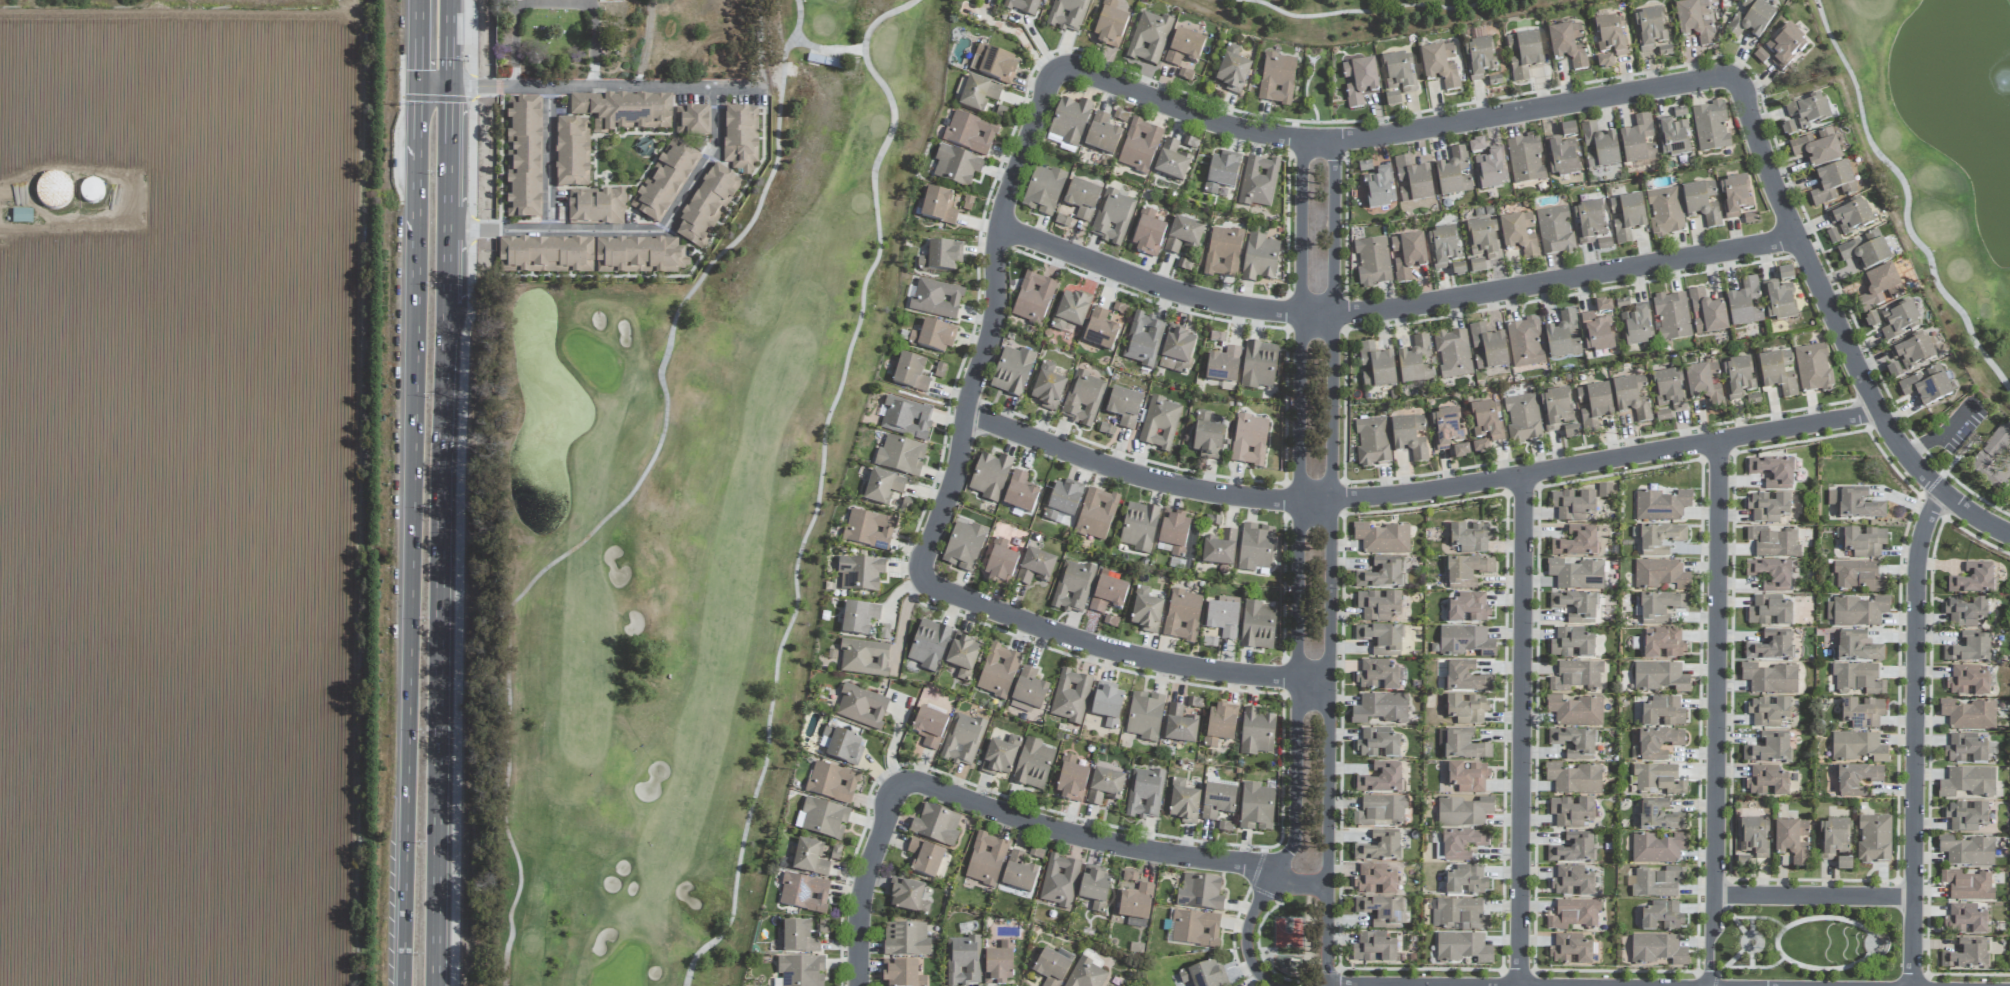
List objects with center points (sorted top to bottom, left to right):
road: (553, 3)
building: (1023, 6)
road: (1365, 11)
building: (1067, 14)
park: (1368, 15)
building: (1751, 19)
building: (1695, 22)
building: (1109, 25)
building: (1650, 27)
road: (1018, 32)
building: (1611, 35)
building: (1149, 38)
road: (417, 42)
building: (1567, 45)
building: (1785, 46)
road: (827, 50)
building: (1184, 50)
building: (1524, 54)
building: (1760, 56)
building: (1479, 58)
building: (824, 62)
building: (1605, 62)
building: (994, 64)
building: (1440, 65)
building: (1232, 70)
building: (1399, 72)
building: (1277, 79)
building: (1360, 81)
fountain: (2004, 81)
road: (589, 86)
road: (1661, 86)
building: (978, 94)
building: (1392, 99)
road: (471, 109)
building: (623, 110)
building: (1808, 110)
building: (1679, 111)
building: (692, 121)
building: (1069, 122)
building: (1710, 126)
building: (1788, 129)
building: (1568, 130)
building: (970, 132)
building: (1102, 135)
building: (740, 137)
building: (1673, 137)
building: (1638, 142)
building: (1139, 146)
building: (1476, 146)
building: (1599, 147)
building: (1817, 148)
park: (1940, 150)
building: (572, 152)
building: (524, 157)
building: (1562, 157)
road: (548, 158)
building: (1525, 159)
road: (704, 161)
building: (1171, 161)
building: (956, 166)
building: (1491, 169)
building: (1221, 172)
building: (1454, 172)
road: (415, 181)
building: (1413, 181)
building: (665, 182)
building: (1258, 182)
building: (1834, 184)
building: (1380, 188)
building: (1043, 190)
building: (1735, 196)
building: (1082, 199)
road: (1907, 199)
building: (1702, 202)
building: (596, 206)
building: (706, 206)
building: (938, 206)
building: (1665, 212)
building: (21, 216)
building: (1626, 216)
building: (1850, 216)
building: (1112, 217)
building: (1589, 222)
road: (472, 230)
road: (555, 231)
building: (1555, 231)
building: (1147, 233)
building: (1519, 234)
building: (1183, 235)
building: (1833, 236)
building: (1484, 239)
building: (1604, 243)
building: (1443, 246)
building: (1865, 250)
building: (1223, 252)
building: (546, 255)
building: (639, 255)
building: (1408, 255)
building: (941, 256)
building: (1259, 258)
building: (1372, 261)
building: (1477, 266)
building: (1785, 274)
building: (1033, 298)
building: (936, 299)
building: (1779, 301)
building: (1622, 303)
building: (1745, 304)
building: (1603, 305)
road: (1391, 308)
building: (1070, 311)
building: (1707, 313)
building: (1672, 316)
building: (1899, 320)
building: (1871, 321)
road: (988, 322)
building: (1637, 325)
building: (1100, 330)
building: (1596, 332)
building: (933, 336)
building: (1563, 336)
building: (1143, 339)
building: (1525, 343)
building: (1487, 348)
building: (1177, 350)
building: (1912, 351)
building: (1453, 353)
building: (1415, 361)
building: (1223, 365)
building: (1259, 365)
building: (1375, 366)
building: (1813, 368)
building: (1012, 371)
building: (1778, 372)
building: (910, 373)
building: (1738, 377)
building: (1704, 383)
building: (1926, 386)
building: (1048, 387)
building: (1669, 389)
building: (1632, 397)
building: (1083, 399)
building: (1594, 405)
building: (1124, 407)
building: (1555, 409)
building: (905, 418)
building: (1523, 419)
building: (1487, 420)
building: (1159, 424)
building: (1446, 428)
building: (1571, 432)
road: (1943, 432)
building: (1207, 437)
building: (1409, 437)
building: (1249, 440)
building: (1372, 441)
building: (1480, 447)
building: (1461, 451)
building: (900, 456)
building: (1992, 456)
building: (1773, 472)
building: (990, 476)
road: (819, 483)
building: (883, 487)
road: (1417, 490)
building: (1603, 490)
building: (1020, 492)
crop: (185, 493)
road: (442, 493)
road: (626, 499)
building: (1062, 499)
building: (1856, 504)
building: (1573, 505)
building: (1661, 505)
building: (1768, 508)
building: (1096, 514)
park: (686, 525)
building: (1139, 527)
building: (868, 530)
building: (1174, 532)
building: (1470, 538)
building: (1382, 539)
building: (1660, 539)
building: (1577, 542)
building: (1773, 542)
building: (1864, 542)
building: (963, 546)
building: (1255, 547)
building: (1219, 549)
building: (999, 564)
road: (1328, 565)
building: (1035, 567)
building: (1467, 570)
building: (860, 573)
road: (1296, 573)
building: (1381, 574)
building: (1576, 574)
building: (1660, 574)
building: (1770, 574)
building: (1858, 576)
building: (1972, 579)
building: (1072, 587)
building: (1108, 595)
building: (1378, 605)
building: (1576, 606)
building: (1660, 607)
building: (1468, 608)
building: (1145, 611)
building: (1769, 611)
building: (1857, 611)
building: (1965, 611)
road: (458, 613)
building: (1182, 616)
building: (1223, 617)
building: (858, 618)
road: (901, 625)
building: (1257, 626)
road: (407, 632)
building: (1381, 638)
building: (1465, 641)
building: (1571, 644)
building: (1664, 644)
building: (929, 645)
building: (1771, 646)
building: (1858, 647)
building: (1969, 648)
road: (1121, 649)
building: (962, 656)
building: (863, 658)
road: (1715, 668)
building: (998, 671)
building: (1377, 675)
building: (1576, 675)
building: (1466, 677)
building: (1660, 677)
building: (1770, 678)
building: (1857, 678)
building: (1967, 680)
building: (1028, 691)
building: (1070, 696)
building: (1194, 702)
building: (1107, 703)
building: (861, 707)
building: (1380, 708)
building: (1467, 709)
building: (1575, 711)
building: (1663, 712)
building: (1769, 712)
building: (1862, 713)
building: (1968, 715)
building: (1145, 716)
building: (1220, 724)
building: (1180, 725)
building: (929, 727)
road: (1519, 730)
building: (1256, 732)
road: (1913, 736)
road: (895, 737)
building: (962, 740)
building: (1574, 743)
building: (1658, 743)
building: (1377, 744)
building: (843, 746)
building: (1464, 746)
building: (1858, 747)
building: (1769, 748)
building: (1965, 749)
building: (1033, 764)
building: (1468, 777)
building: (1381, 778)
building: (1071, 779)
building: (1574, 779)
building: (1658, 779)
building: (1857, 779)
building: (1767, 781)
building: (832, 782)
building: (1966, 782)
building: (1104, 786)
building: (1144, 794)
building: (1217, 801)
building: (1183, 802)
building: (1256, 807)
building: (1379, 810)
building: (1463, 811)
building: (1571, 812)
building: (1659, 816)
building: (1965, 816)
building: (822, 818)
building: (936, 825)
building: (1754, 837)
building: (1833, 838)
building: (1874, 839)
building: (1792, 840)
road: (1108, 843)
building: (1462, 844)
building: (1380, 847)
building: (1657, 848)
building: (1573, 849)
building: (1967, 851)
building: (836, 852)
building: (924, 857)
building: (809, 858)
building: (986, 859)
building: (1743, 862)
building: (1844, 863)
building: (1018, 873)
building: (1129, 878)
building: (1375, 880)
building: (1466, 880)
road: (861, 881)
building: (1059, 881)
building: (1572, 882)
building: (1654, 882)
building: (1967, 885)
building: (1094, 887)
building: (804, 892)
building: (1200, 893)
road: (1813, 896)
building: (908, 897)
building: (1135, 905)
building: (1381, 911)
building: (1460, 913)
building: (1573, 914)
building: (1662, 916)
building: (1967, 917)
road: (1759, 918)
road: (1736, 922)
road: (1751, 926)
building: (1195, 928)
road: (1748, 935)
road: (1754, 935)
road: (1871, 935)
building: (798, 937)
building: (906, 939)
road: (1708, 940)
road: (1744, 942)
road: (1757, 945)
building: (1374, 947)
building: (1462, 947)
building: (1657, 949)
road: (1748, 949)
building: (1570, 950)
building: (1967, 955)
road: (1751, 959)
building: (963, 961)
road: (1731, 961)
building: (999, 964)
building: (1051, 968)
road: (1755, 968)
building: (801, 970)
building: (902, 974)
building: (1086, 974)
building: (1204, 975)

